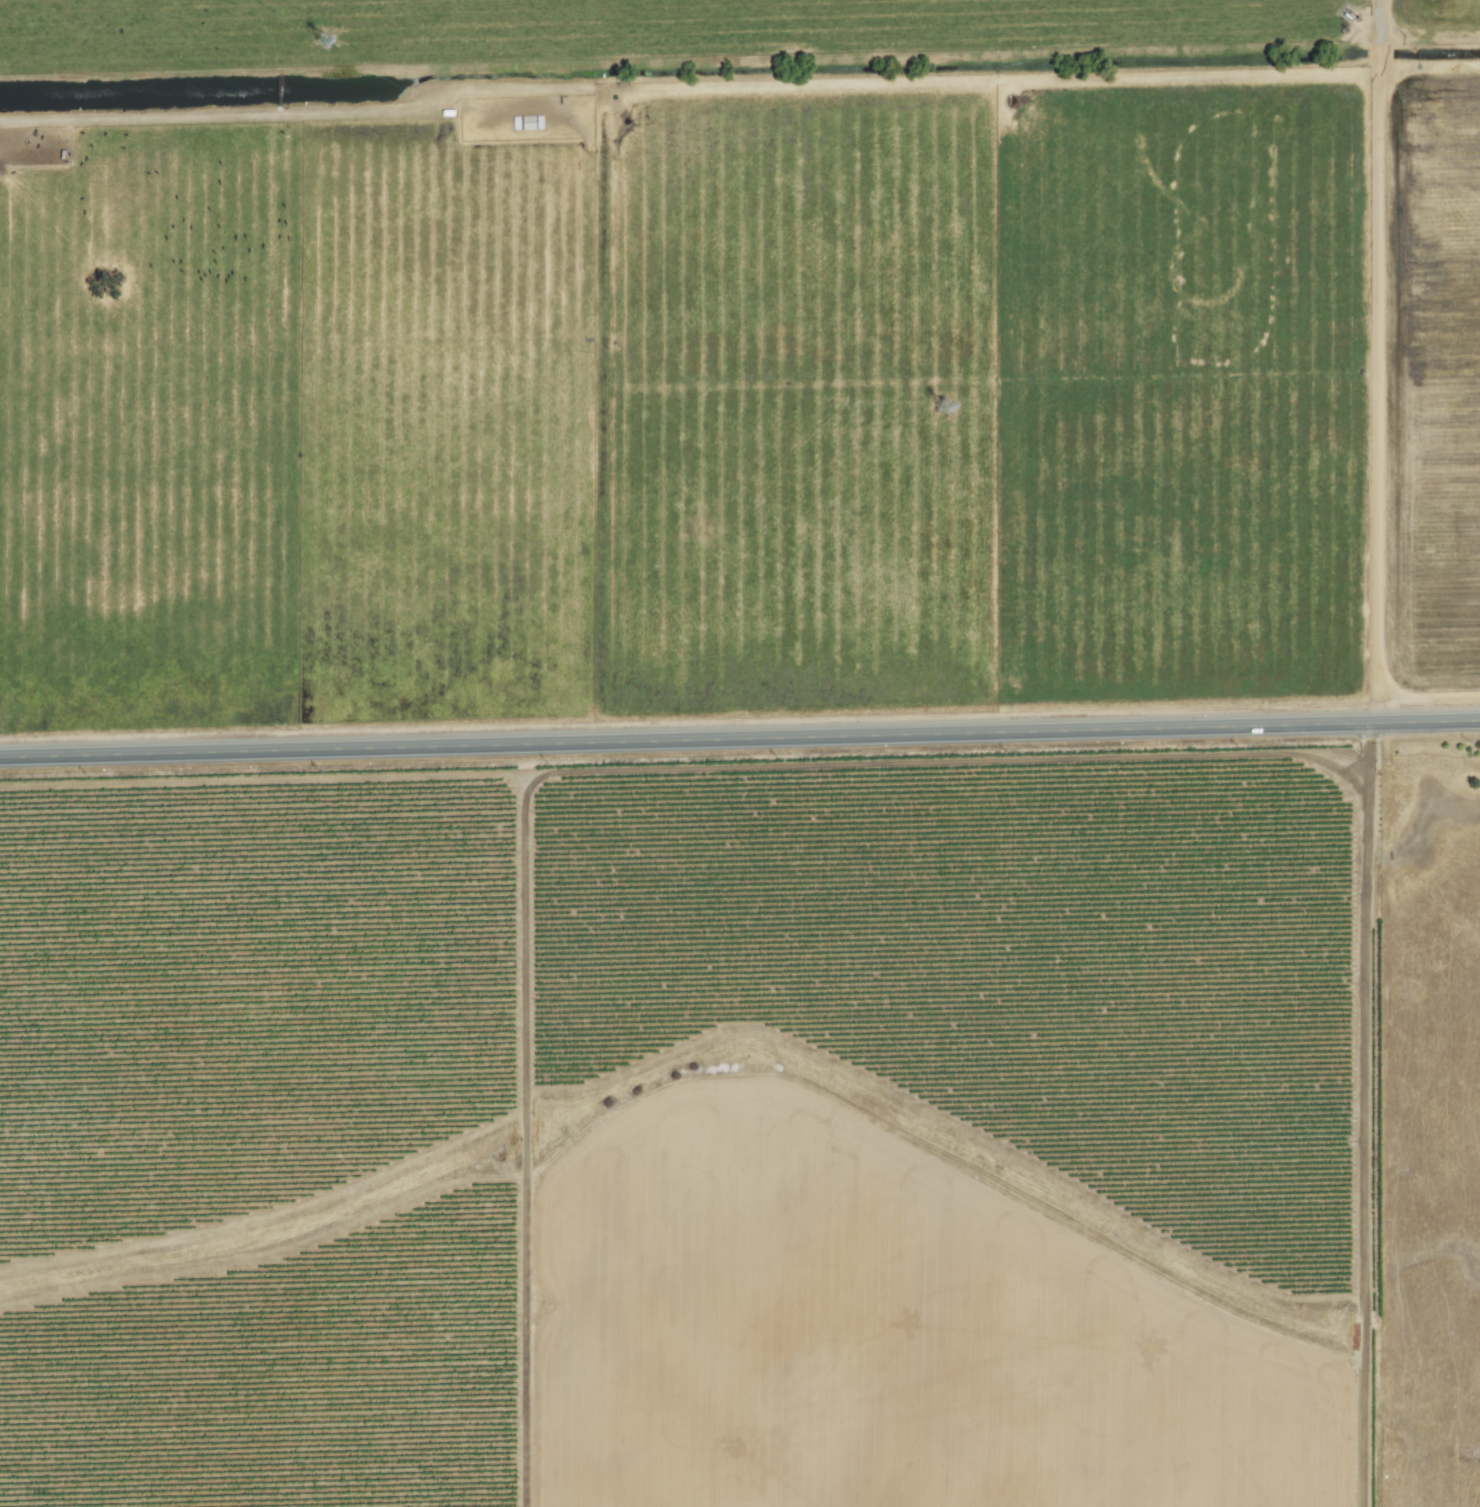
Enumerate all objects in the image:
power tower: (324, 36)
power tower: (948, 407)
road: (740, 729)

